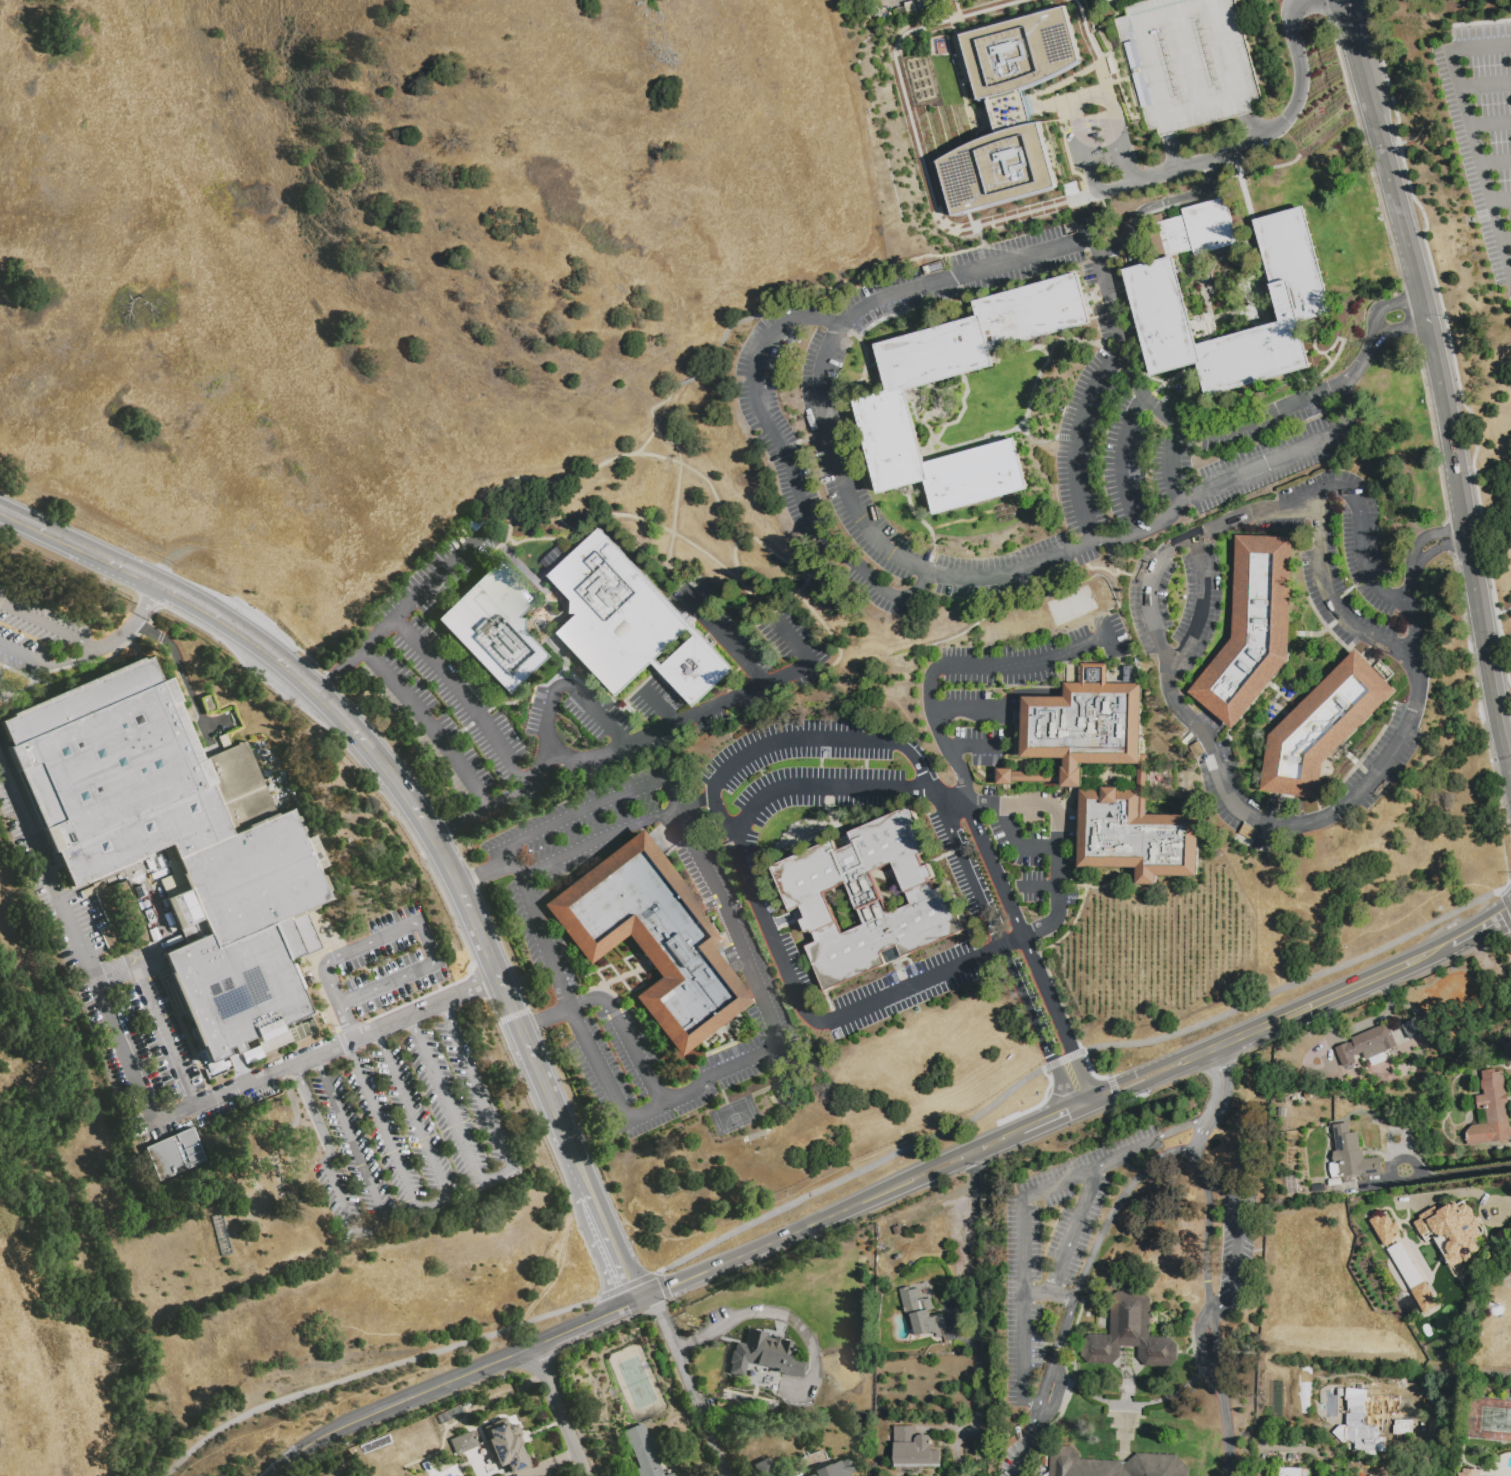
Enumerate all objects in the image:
parking lot: (878, 1)
building: (1318, 28)
road: (1351, 28)
building: (938, 46)
road: (1098, 53)
building: (1188, 63)
parking garage: (1188, 63)
road: (959, 73)
road: (1485, 85)
road: (1070, 95)
road: (1091, 99)
road: (1126, 103)
building: (1010, 109)
road: (1490, 125)
parking lot: (1482, 126)
road: (1470, 129)
parking lot: (1102, 140)
road: (1066, 153)
road: (1173, 153)
road: (1495, 161)
building: (1071, 188)
road: (1501, 200)
road: (1155, 205)
road: (1020, 216)
road: (1506, 239)
building: (934, 268)
road: (878, 270)
building: (1156, 291)
building: (166, 298)
road: (1383, 309)
building: (1034, 311)
road: (1397, 329)
road: (728, 333)
building: (935, 354)
road: (1358, 364)
road: (1448, 407)
road: (1172, 420)
building: (893, 440)
road: (1432, 440)
road: (1080, 444)
road: (1285, 454)
road: (1363, 459)
road: (615, 460)
road: (835, 460)
road: (1124, 461)
road: (1175, 462)
road: (790, 469)
building: (976, 476)
road: (22, 519)
road: (674, 520)
road: (961, 520)
road: (923, 522)
building: (473, 527)
road: (577, 531)
road: (1426, 538)
road: (1435, 549)
road: (100, 556)
road: (709, 557)
road: (776, 562)
road: (823, 584)
road: (424, 592)
building: (1108, 594)
road: (147, 599)
road: (189, 599)
road: (1329, 599)
road: (1200, 611)
building: (616, 612)
fountain: (537, 623)
road: (48, 625)
building: (493, 626)
building: (1253, 629)
road: (120, 633)
road: (253, 640)
parking lot: (42, 643)
road: (727, 644)
road: (24, 655)
road: (73, 659)
road: (955, 667)
road: (180, 668)
building: (695, 669)
road: (343, 674)
road: (569, 685)
road: (467, 697)
road: (1177, 698)
building: (210, 706)
road: (663, 706)
road: (996, 708)
road: (678, 722)
road: (431, 727)
building: (1322, 728)
building: (224, 741)
road: (799, 741)
building: (1192, 742)
road: (972, 748)
building: (1198, 752)
building: (1041, 778)
road: (824, 786)
road: (934, 799)
road: (580, 811)
road: (417, 812)
road: (471, 815)
building: (702, 823)
road: (947, 828)
building: (1247, 831)
road: (599, 838)
road: (1057, 839)
building: (1243, 840)
building: (178, 843)
road: (1016, 844)
road: (988, 856)
building: (159, 873)
road: (483, 874)
building: (695, 876)
road: (1508, 886)
road: (1047, 889)
building: (94, 891)
building: (139, 891)
building: (868, 899)
road: (1505, 901)
road: (156, 907)
road: (722, 913)
building: (149, 916)
road: (1070, 925)
road: (1479, 932)
building: (154, 934)
building: (653, 937)
road: (424, 942)
road: (76, 944)
road: (130, 959)
parking lot: (390, 960)
road: (965, 963)
road: (787, 973)
road: (1012, 974)
building: (523, 981)
road: (1297, 981)
road: (332, 986)
road: (1302, 1000)
road: (612, 1011)
road: (1064, 1012)
road: (1056, 1014)
road: (516, 1018)
road: (346, 1020)
building: (1412, 1029)
parking lot: (136, 1031)
road: (162, 1031)
road: (1267, 1031)
building: (289, 1037)
building: (1366, 1045)
road: (325, 1048)
building: (253, 1057)
building: (779, 1059)
road: (1063, 1059)
building: (219, 1067)
road: (600, 1070)
building: (737, 1077)
building: (159, 1089)
road: (1114, 1090)
building: (163, 1095)
building: (1307, 1095)
road: (1078, 1097)
road: (1212, 1098)
road: (1224, 1098)
road: (1087, 1101)
road: (1076, 1106)
building: (1491, 1111)
road: (555, 1118)
building: (1386, 1122)
road: (1051, 1124)
parking lot: (405, 1125)
road: (1181, 1127)
road: (1195, 1142)
building: (178, 1152)
building: (1351, 1156)
road: (932, 1163)
road: (853, 1173)
road: (1467, 1173)
road: (498, 1175)
building: (1335, 1182)
road: (909, 1185)
road: (432, 1201)
road: (1236, 1225)
road: (366, 1227)
road: (1074, 1227)
building: (1386, 1229)
road: (1207, 1231)
building: (1455, 1231)
road: (1022, 1234)
road: (607, 1246)
road: (752, 1250)
road: (1082, 1277)
road: (626, 1285)
road: (662, 1286)
road: (667, 1286)
road: (1049, 1290)
building: (1424, 1297)
road: (1220, 1307)
road: (977, 1310)
building: (921, 1312)
road: (780, 1314)
building: (1130, 1333)
road: (1213, 1346)
road: (1203, 1348)
building: (766, 1355)
road: (397, 1361)
road: (1488, 1375)
road: (446, 1381)
road: (688, 1385)
road: (318, 1407)
road: (559, 1410)
building: (1370, 1419)
road: (1225, 1425)
building: (1403, 1427)
building: (463, 1442)
building: (506, 1446)
building: (644, 1449)
building: (914, 1449)
road: (1017, 1449)
road: (1305, 1449)
road: (183, 1456)
building: (1116, 1465)
building: (762, 1466)
building: (835, 1469)
building: (1293, 1472)
building: (1467, 1473)
building: (671, 1474)

